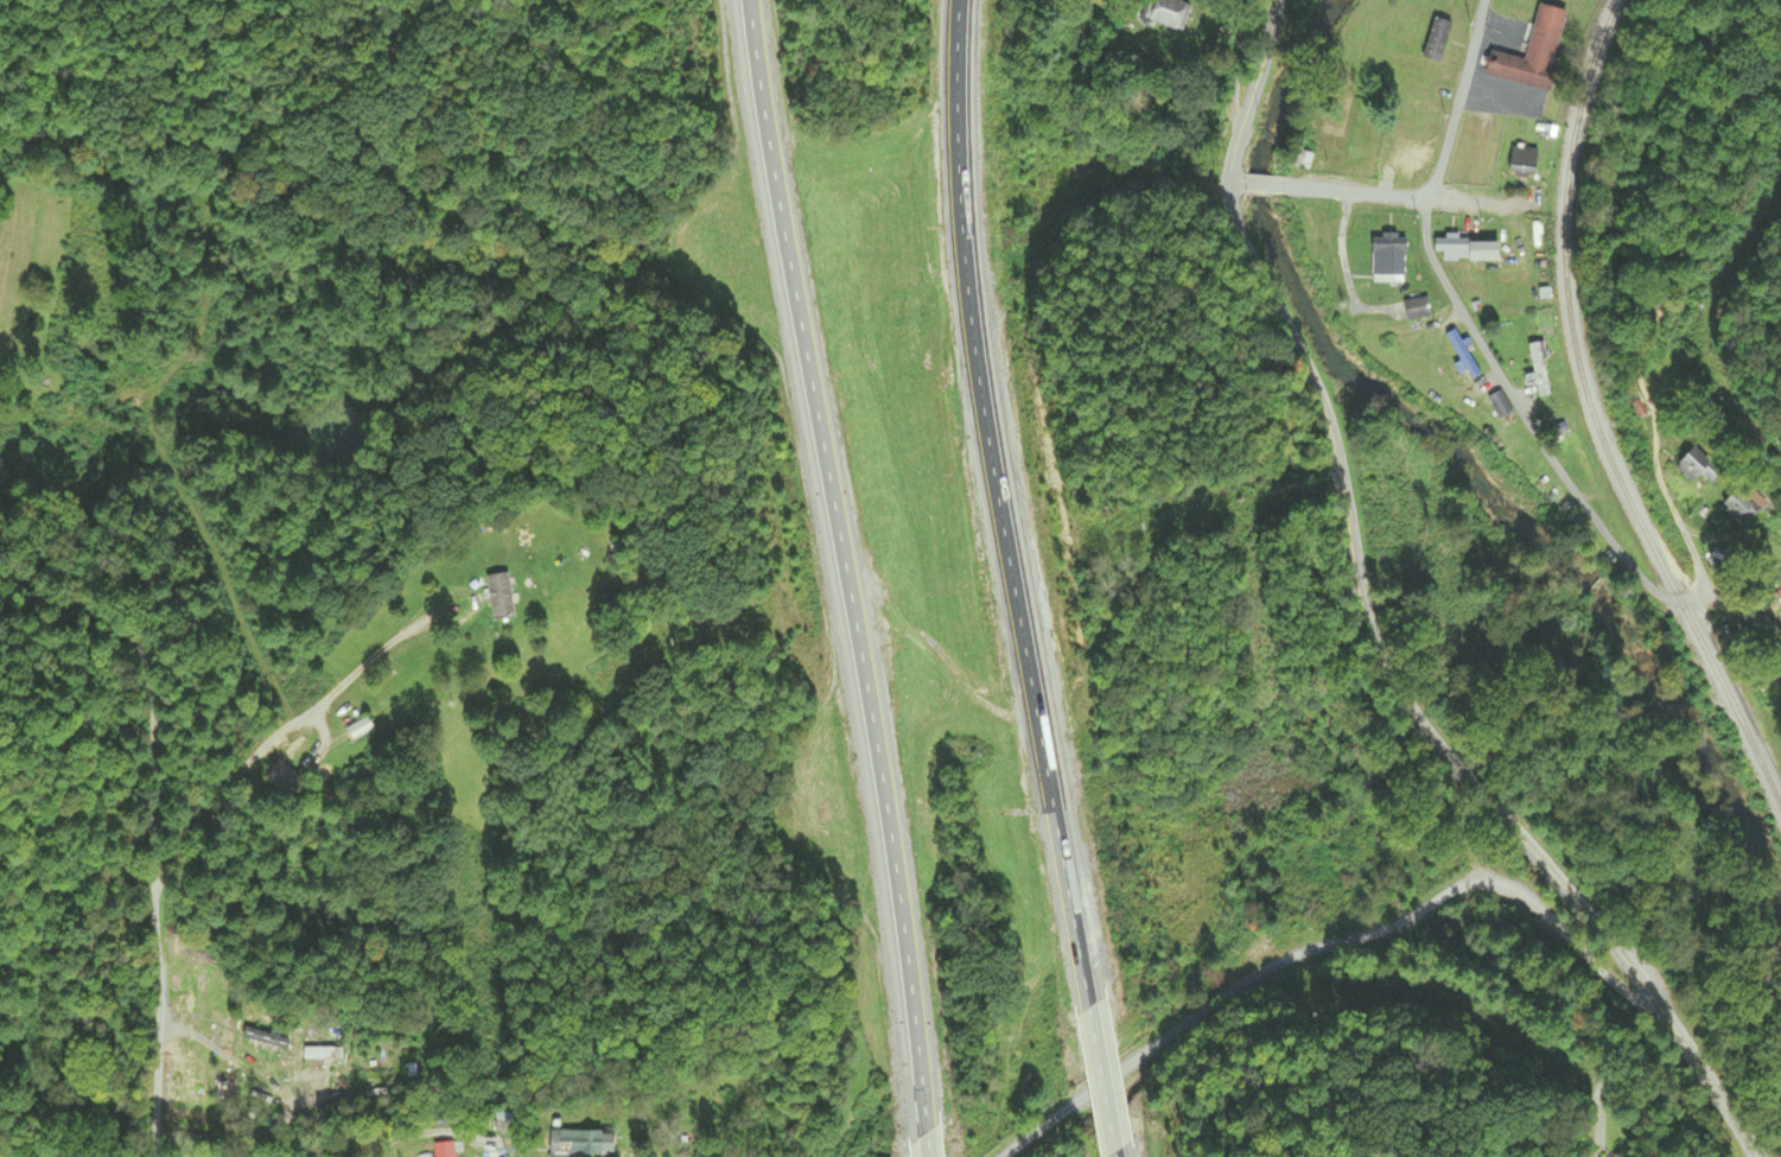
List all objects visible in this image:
building: (1164, 13)
building: (1437, 40)
building: (1533, 52)
road: (1235, 56)
road: (1251, 90)
road: (1462, 101)
building: (1522, 161)
building: (1404, 165)
road: (1239, 183)
road: (1264, 183)
road: (1407, 197)
building: (1514, 247)
building: (1452, 248)
building: (1388, 259)
building: (1462, 355)
building: (1538, 369)
building: (1497, 403)
railway: (1596, 418)
road: (1534, 436)
river: (1452, 452)
building: (1692, 464)
road: (1661, 487)
road: (1003, 500)
building: (1743, 503)
road: (1710, 534)
building: (1773, 548)
road: (839, 559)
building: (498, 597)
road: (1375, 636)
road: (78, 726)
building: (360, 727)
building: (282, 775)
road: (155, 808)
road: (1332, 941)
building: (191, 986)
road: (1464, 1011)
building: (263, 1038)
building: (323, 1053)
road: (1105, 1075)
building: (375, 1082)
road: (1712, 1085)
road: (928, 1138)
building: (580, 1142)
road: (1120, 1155)

